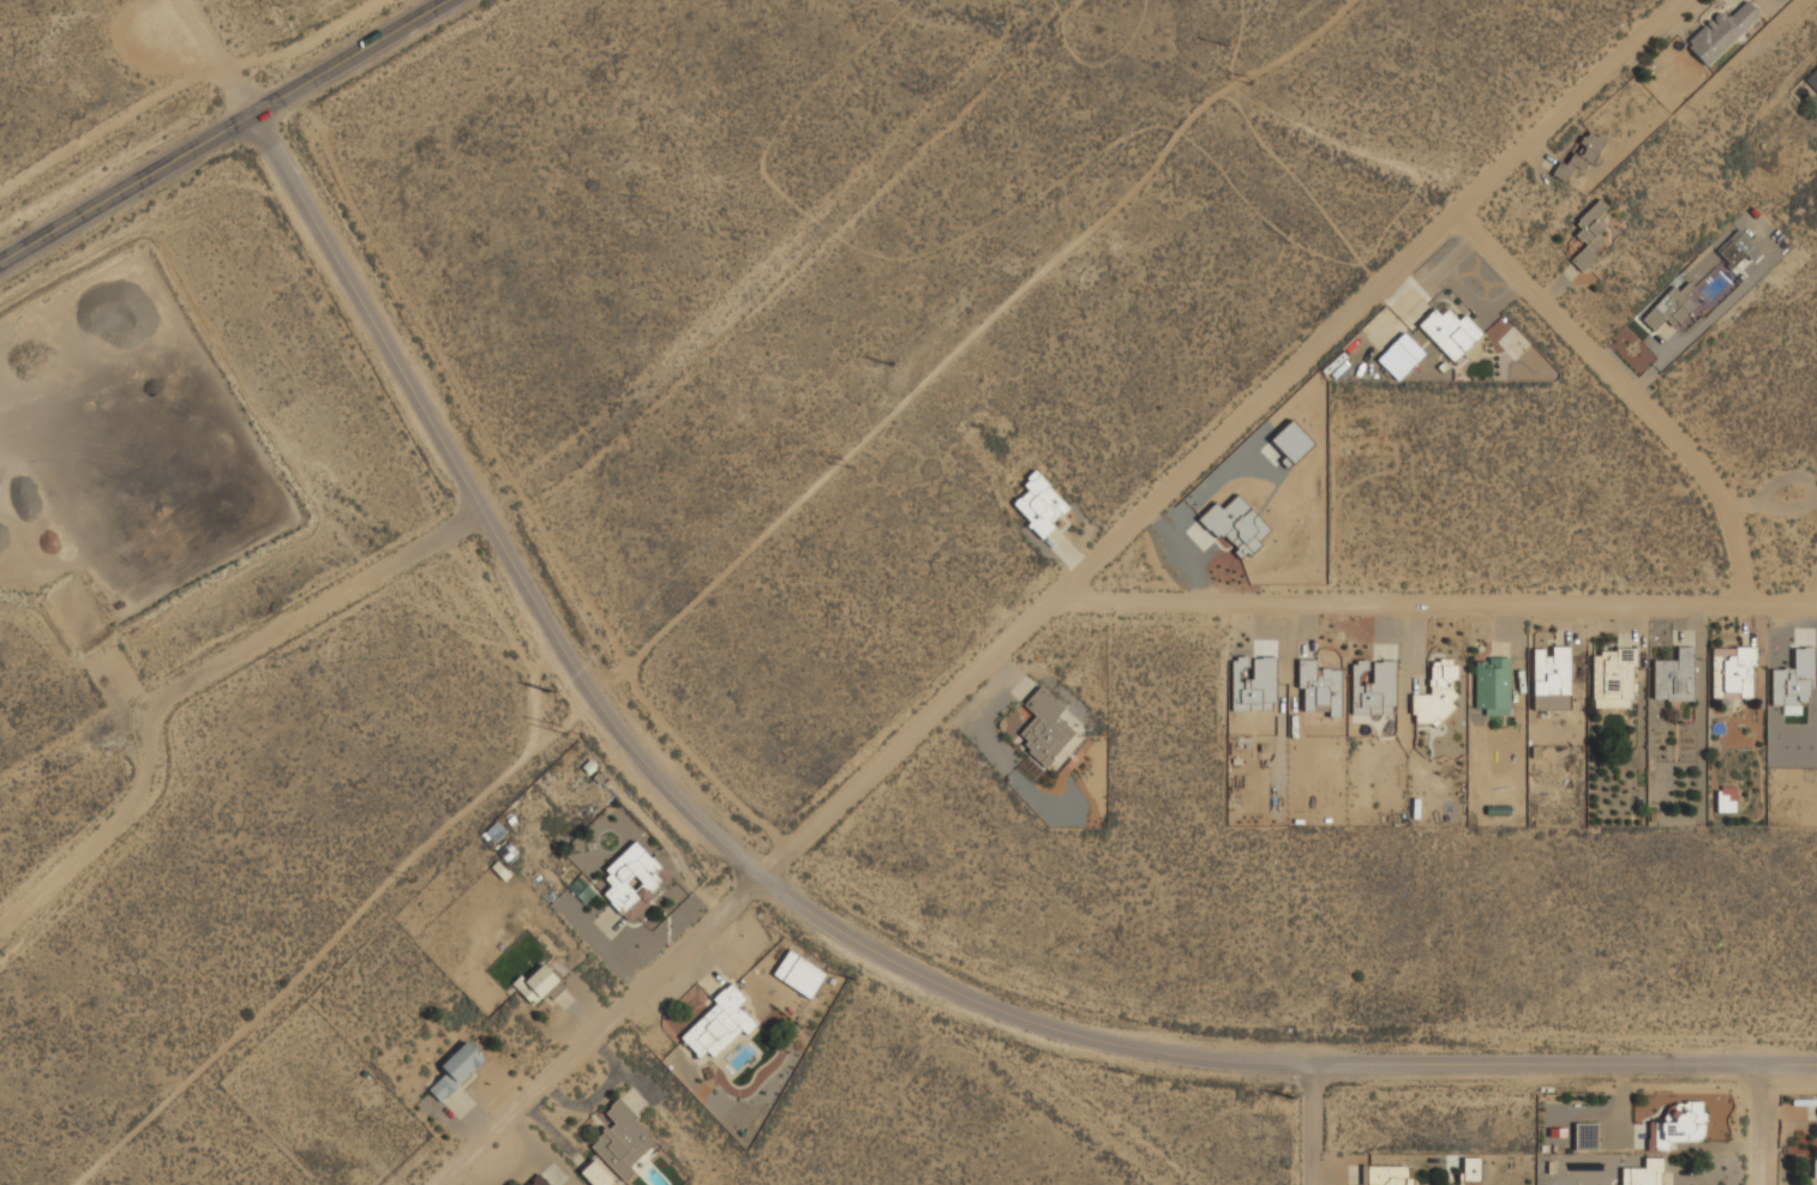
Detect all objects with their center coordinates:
building: (1720, 32)
power tower: (1227, 48)
road: (226, 58)
power tower: (1245, 80)
building: (1812, 80)
road: (113, 124)
road: (228, 136)
building: (1590, 231)
building: (1733, 248)
building: (1668, 309)
building: (1450, 332)
building: (1399, 356)
power tower: (890, 363)
road: (1631, 397)
building: (1290, 441)
power tower: (842, 463)
building: (1039, 505)
building: (1236, 525)
road: (1062, 585)
road: (1434, 600)
road: (319, 603)
building: (1733, 670)
building: (1674, 676)
building: (1551, 679)
building: (1612, 679)
building: (1253, 685)
building: (1492, 686)
building: (1319, 688)
power tower: (546, 690)
building: (1437, 693)
road: (156, 706)
building: (1044, 727)
power tower: (562, 729)
building: (1726, 800)
power tower: (407, 876)
building: (632, 880)
road: (840, 922)
power tower: (850, 978)
building: (538, 985)
building: (716, 1025)
building: (456, 1070)
power tower: (1287, 1096)
building: (1678, 1126)
road: (1764, 1127)
road: (1312, 1130)
building: (1584, 1136)
building: (616, 1148)
building: (1470, 1169)
building: (1645, 1173)
building: (1386, 1175)
building: (536, 1180)

